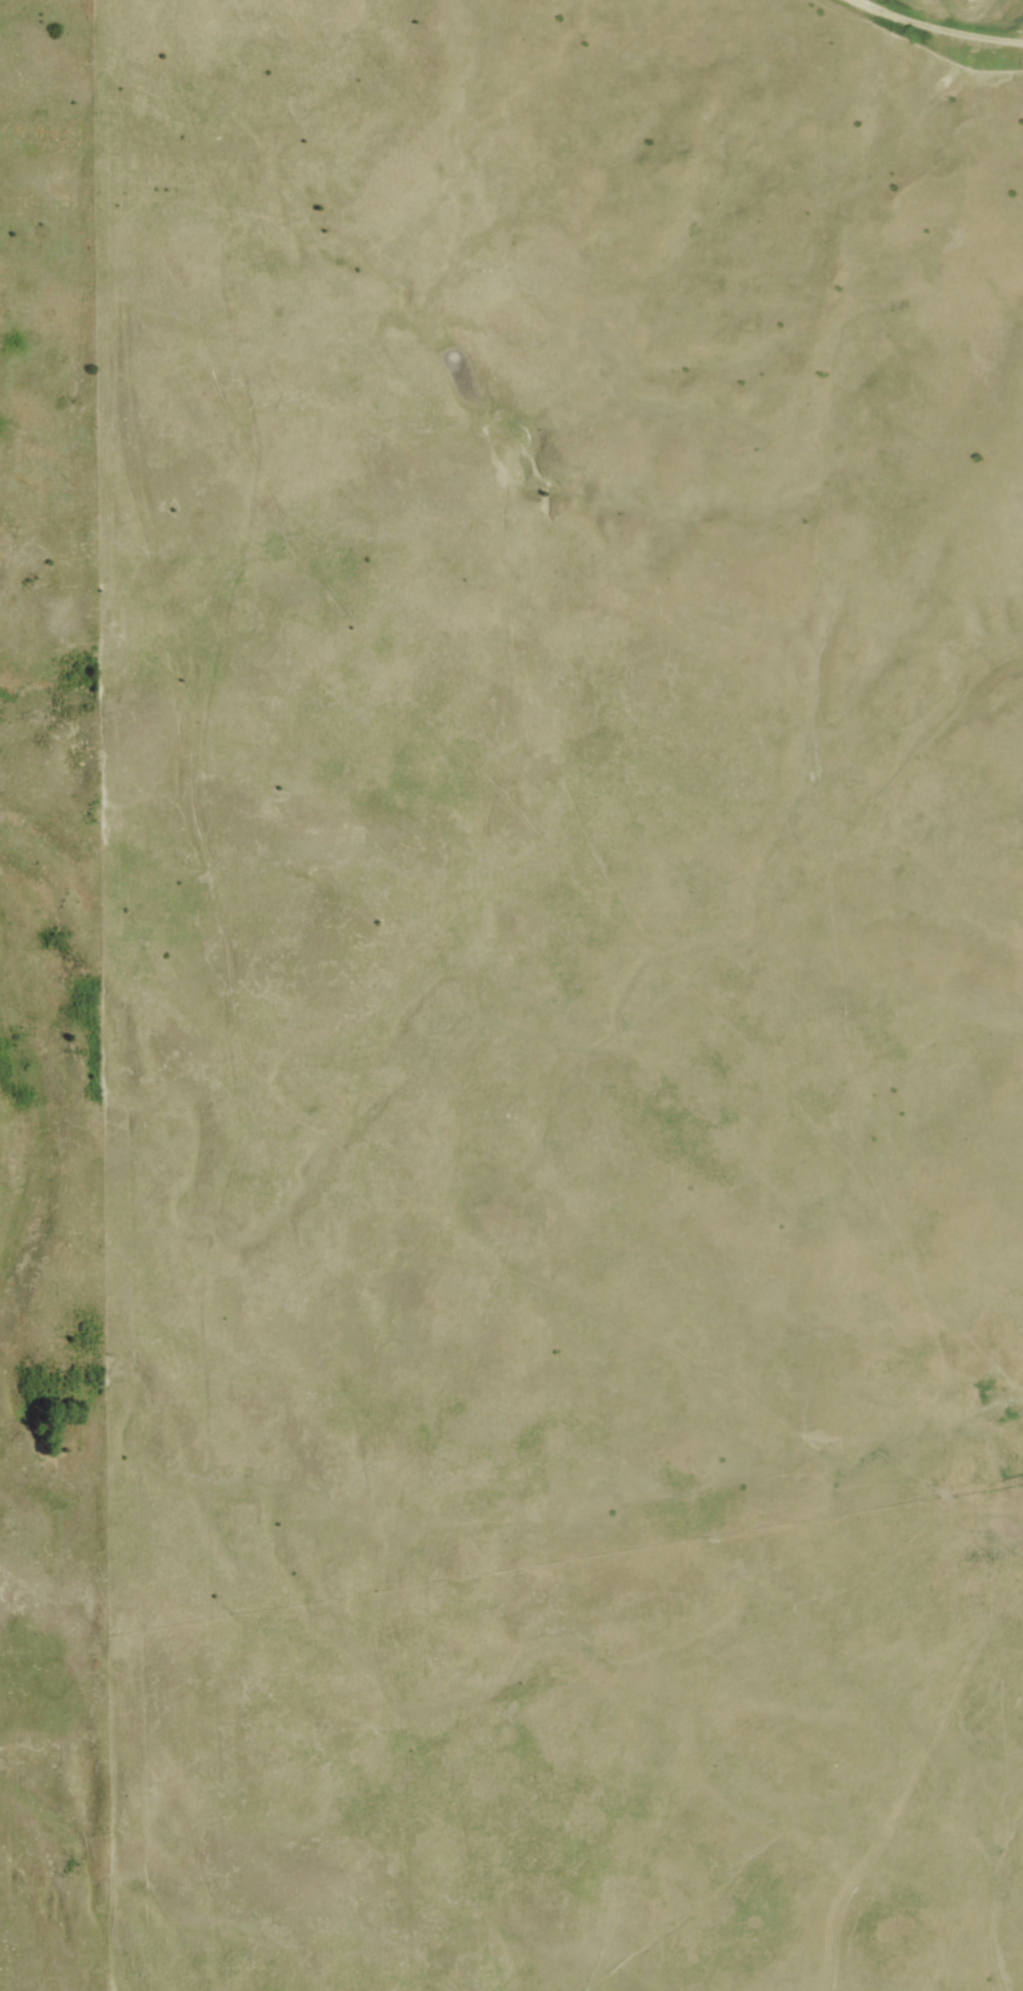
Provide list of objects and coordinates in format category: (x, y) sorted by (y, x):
road: (938, 25)

